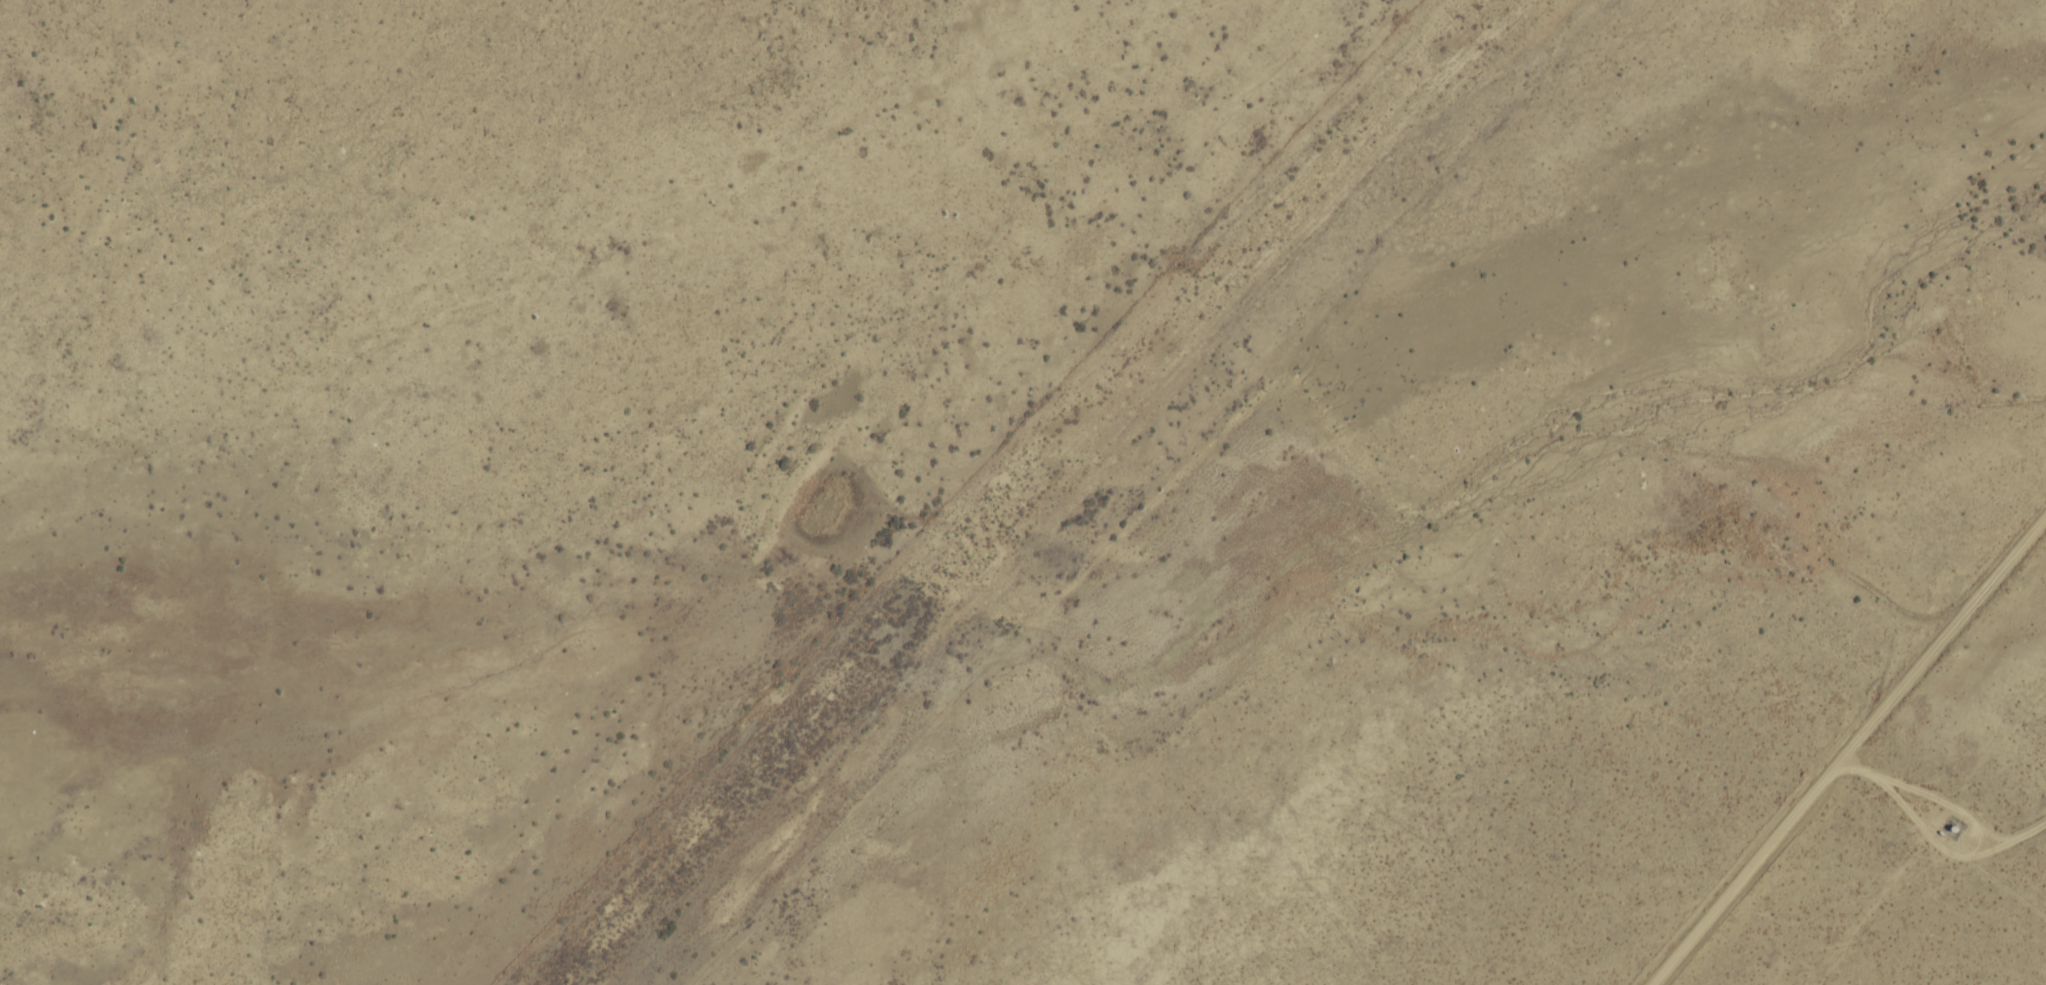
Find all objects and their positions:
road: (1846, 749)
road: (1953, 795)
road: (1936, 832)

